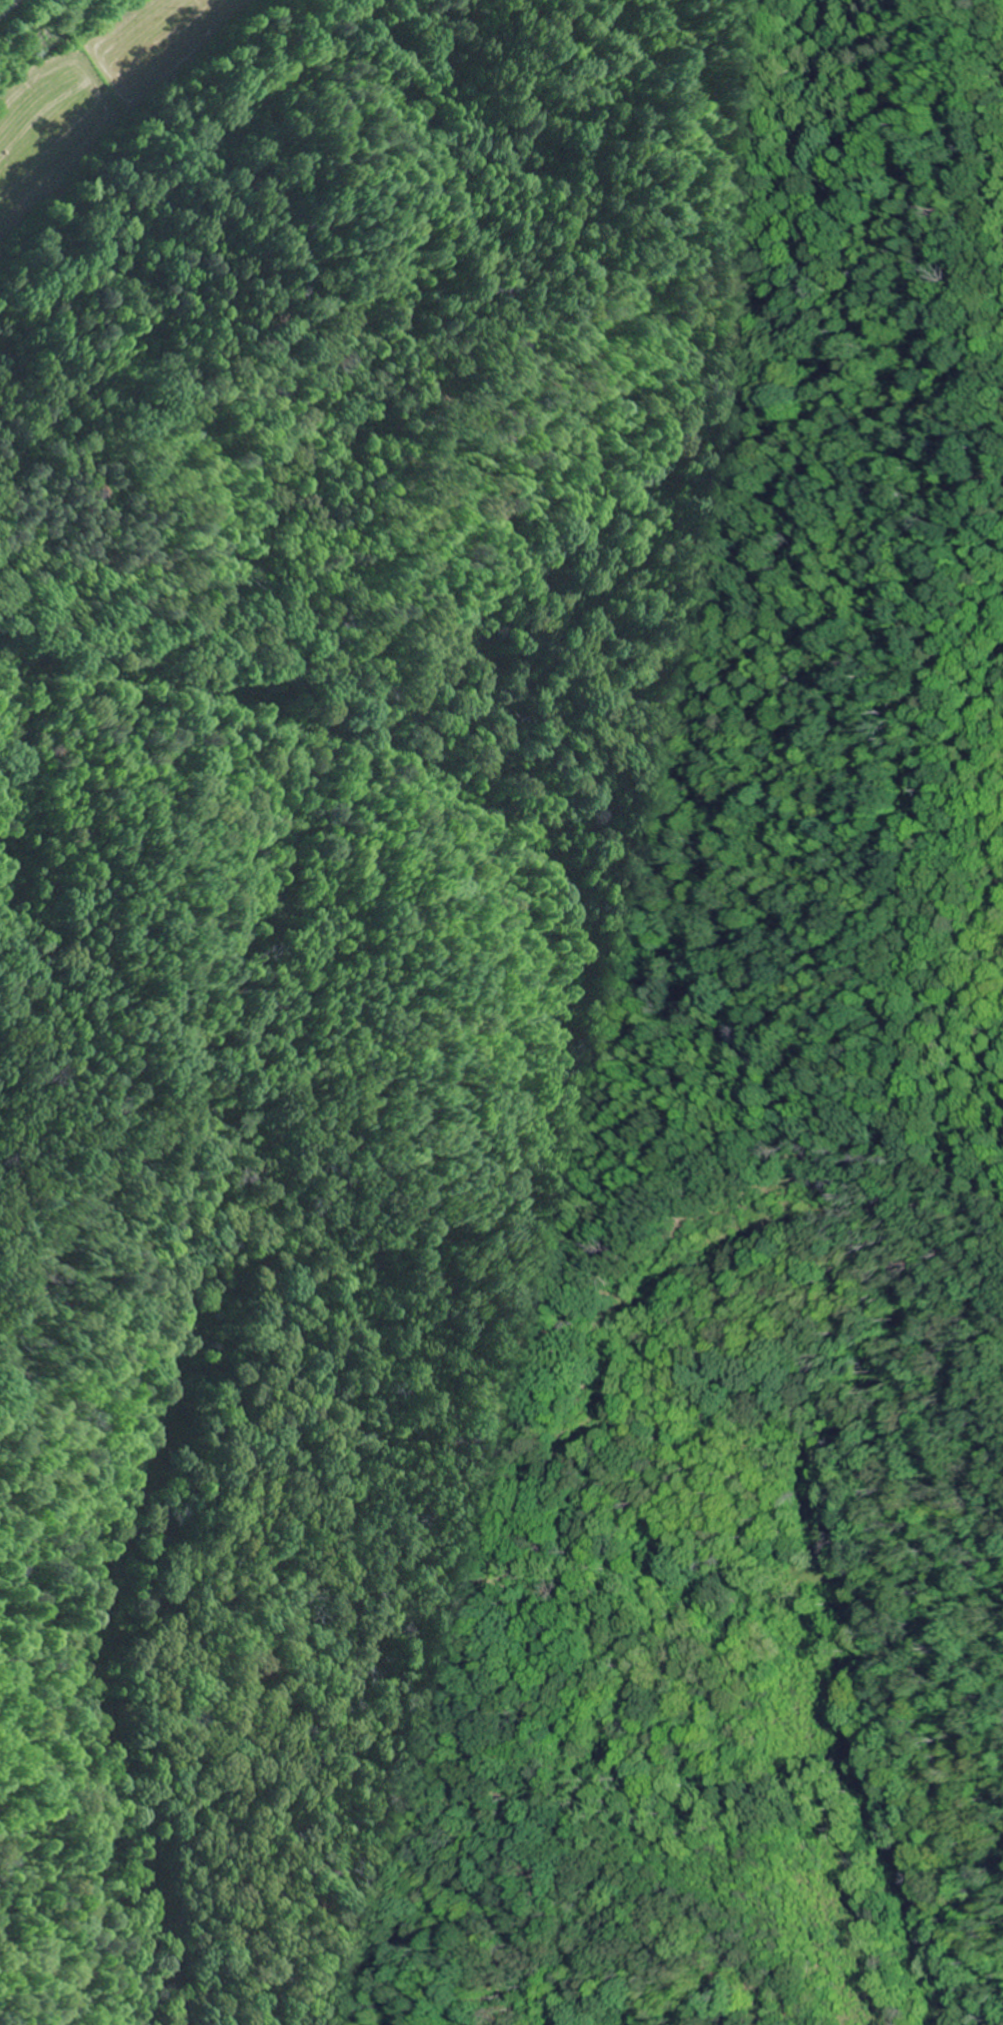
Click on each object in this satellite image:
road: (10, 8)

